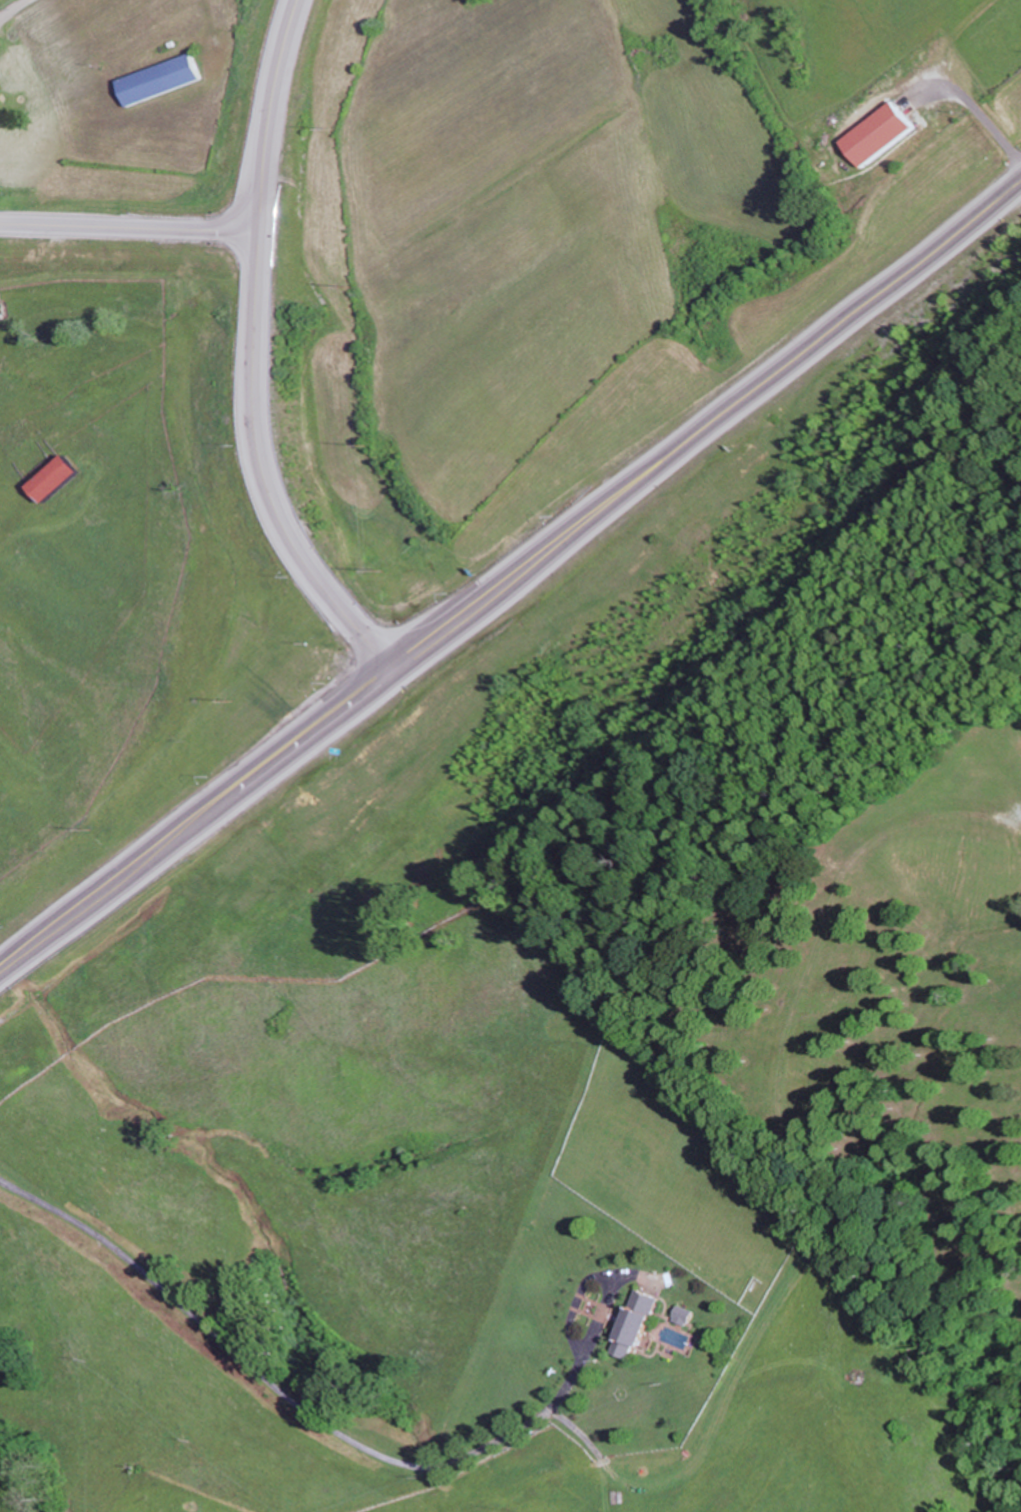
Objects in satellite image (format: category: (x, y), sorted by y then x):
road: (14, 9)
building: (161, 79)
road: (271, 114)
building: (879, 134)
road: (130, 227)
road: (822, 332)
building: (18, 432)
road: (265, 467)
building: (55, 478)
road: (311, 727)
building: (633, 1324)

